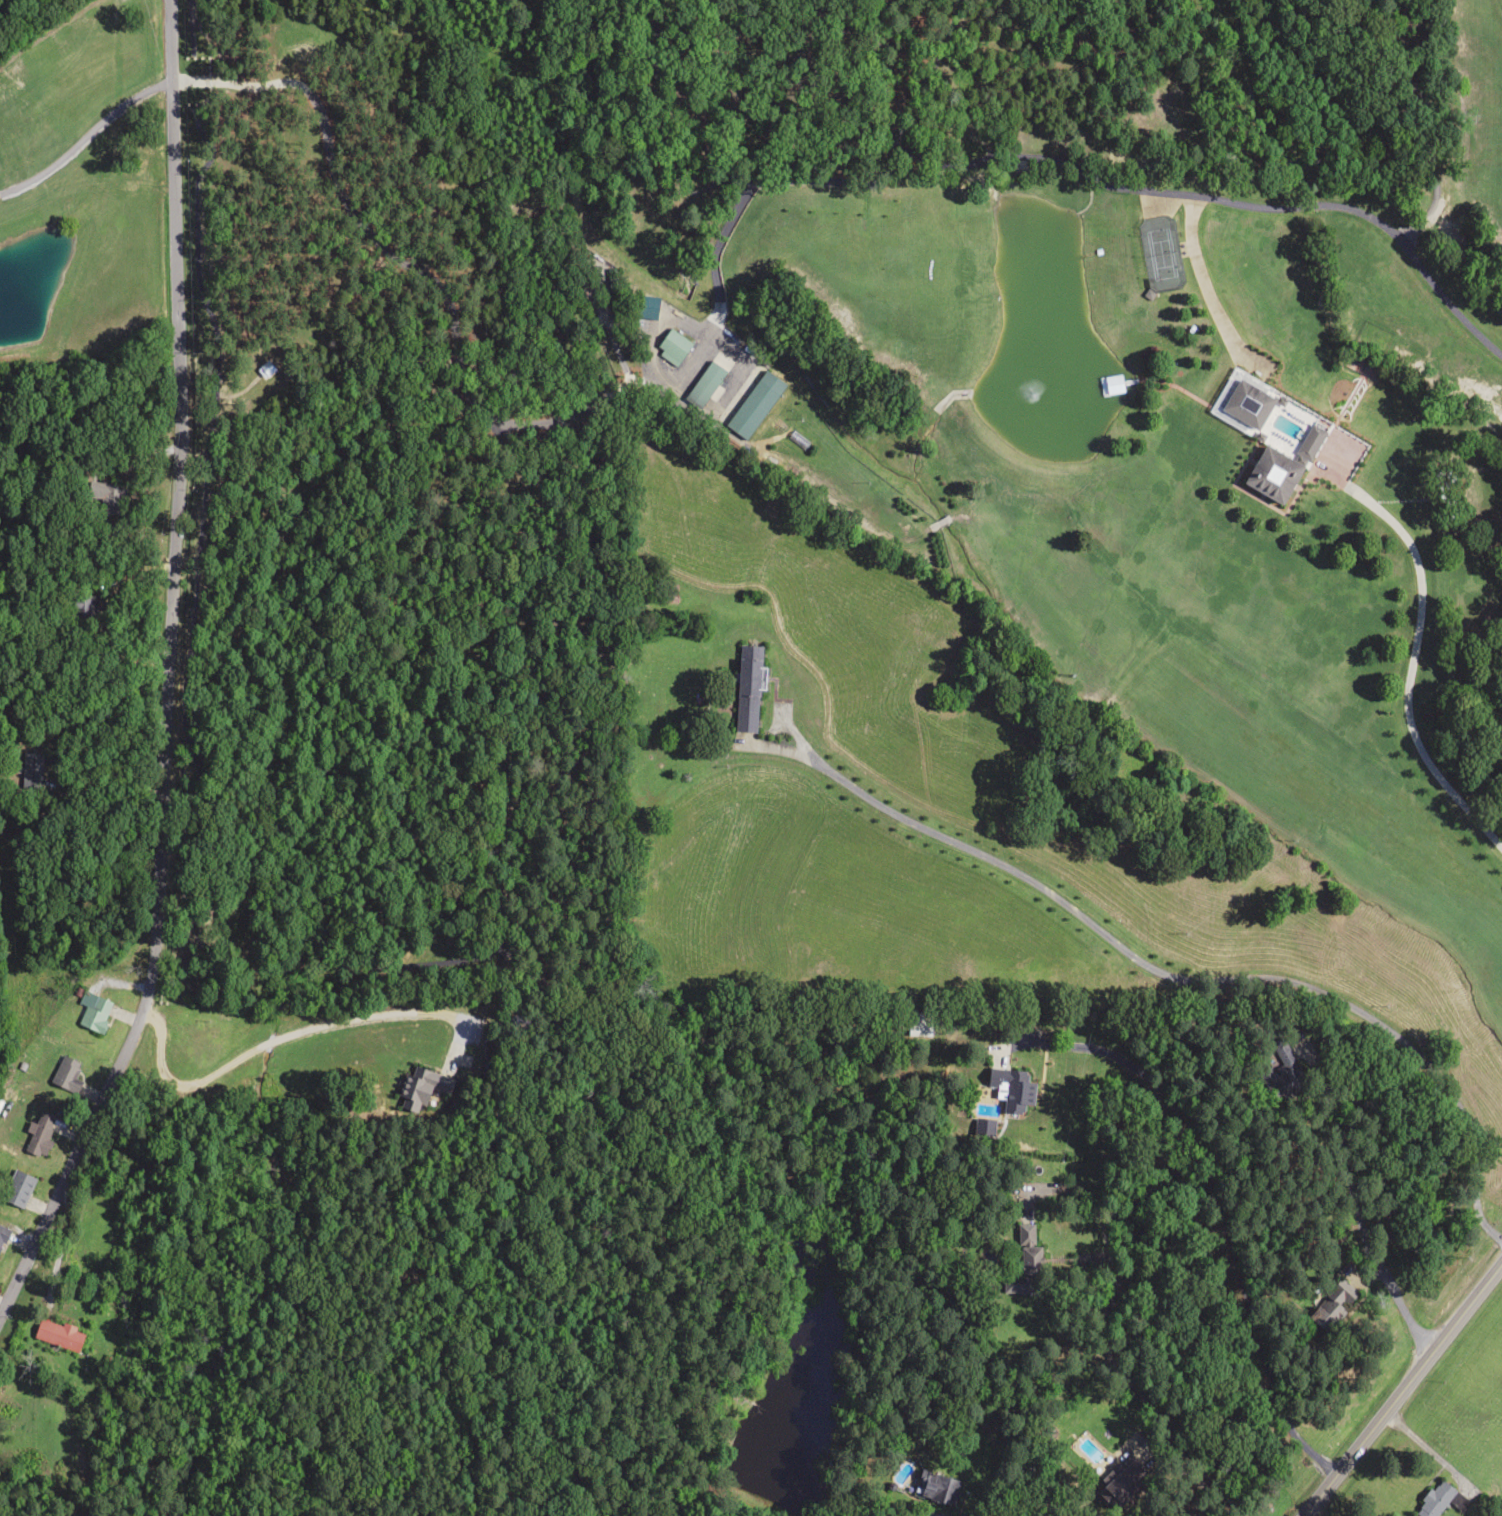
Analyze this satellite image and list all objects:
building: (673, 346)
building: (708, 380)
building: (1109, 384)
building: (1244, 400)
building: (1270, 473)
building: (104, 491)
building: (666, 593)
building: (85, 606)
road: (175, 676)
building: (745, 688)
road: (1349, 703)
road: (1217, 963)
building: (92, 1012)
building: (1274, 1071)
building: (65, 1073)
building: (423, 1087)
building: (1011, 1090)
building: (39, 1135)
building: (16, 1189)
building: (3, 1235)
building: (1025, 1250)
building: (1330, 1305)
road: (1273, 1308)
building: (55, 1336)
road: (1408, 1397)
road: (912, 1400)
building: (1119, 1482)
building: (935, 1489)
building: (1438, 1499)
road: (759, 1506)

